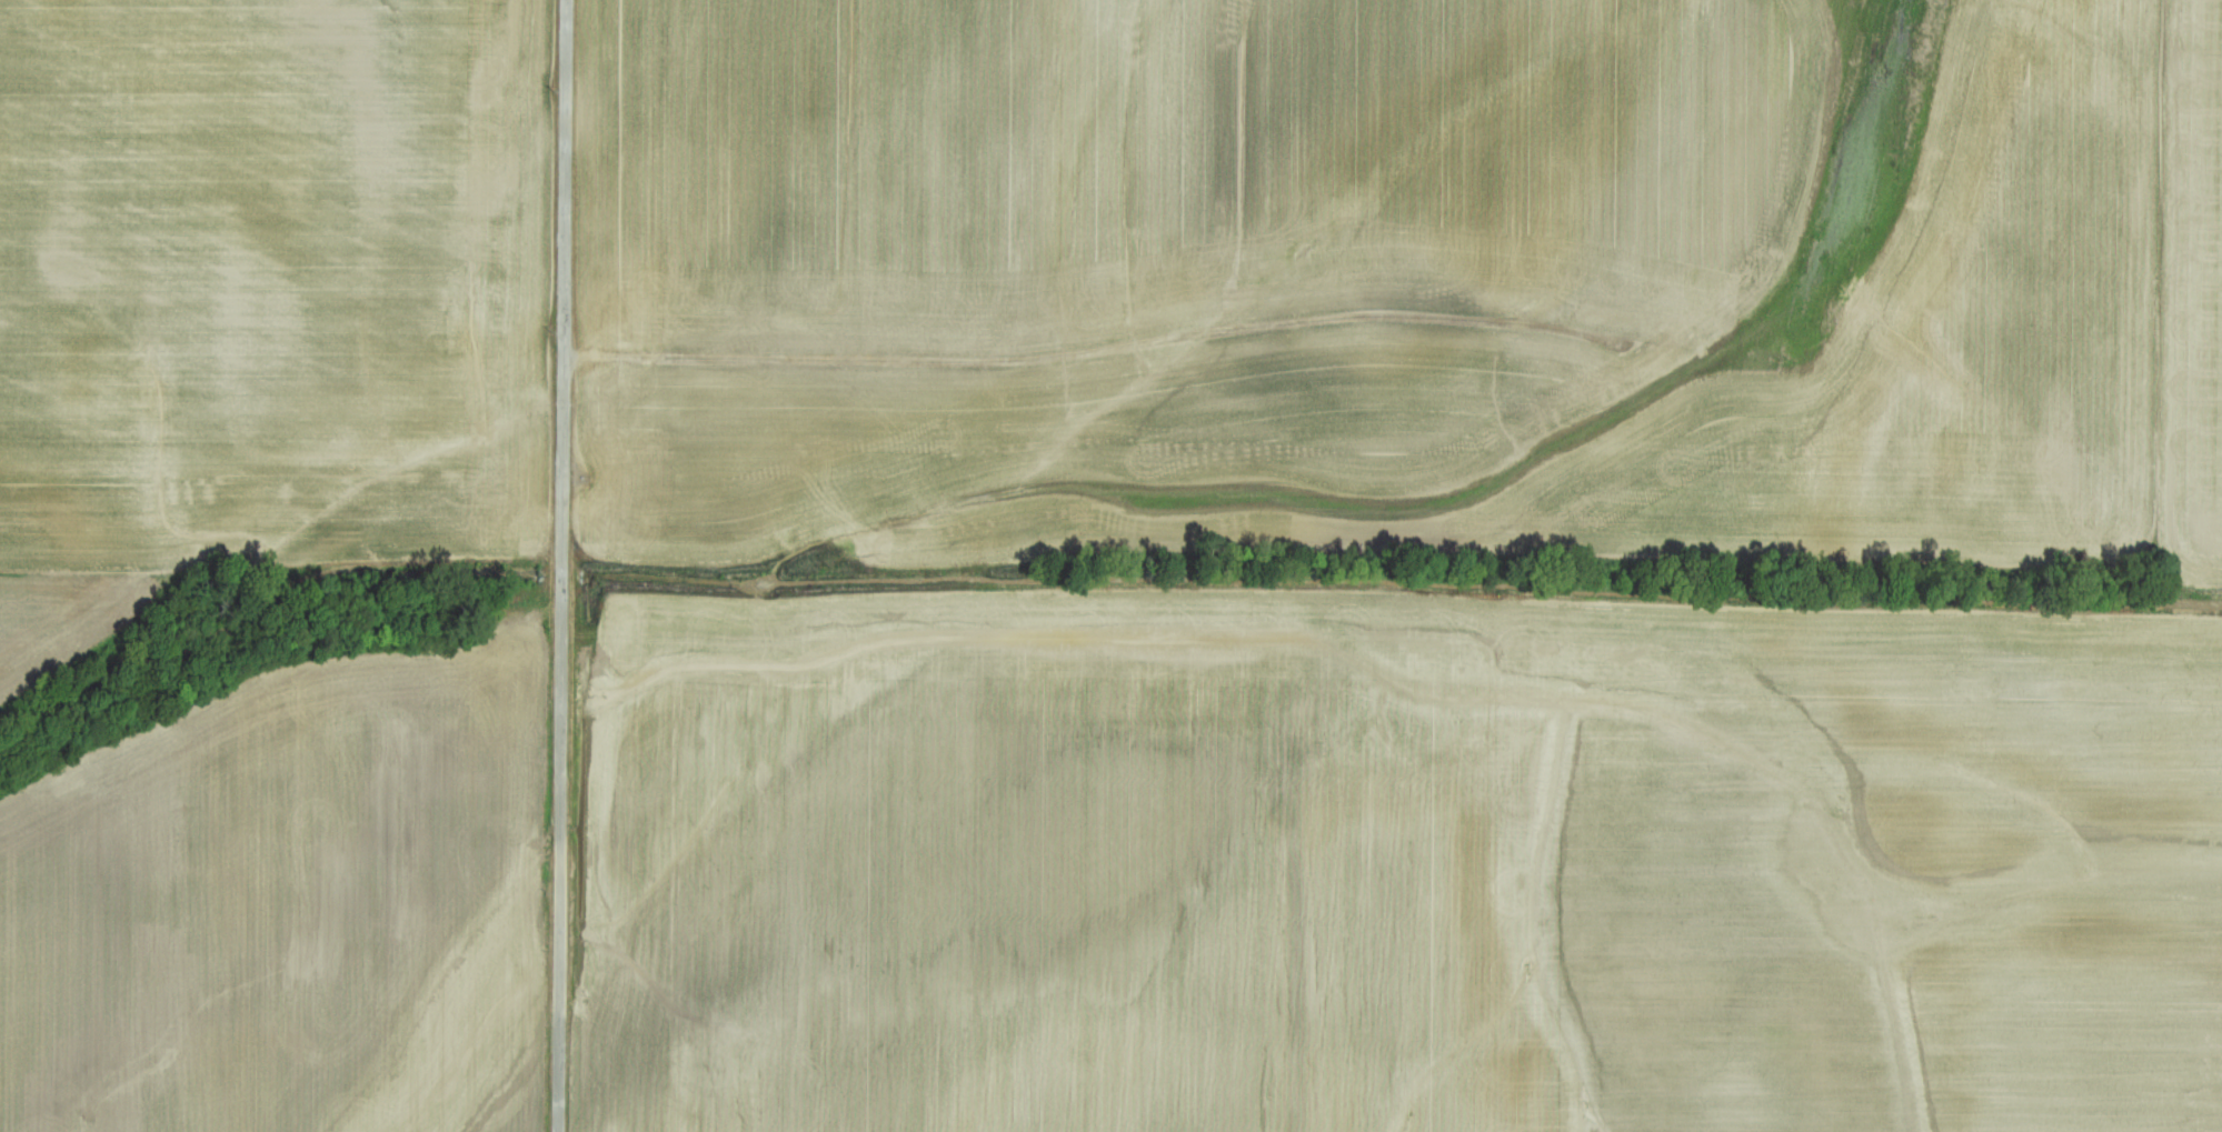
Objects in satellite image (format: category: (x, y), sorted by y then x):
road: (1119, 350)
road: (561, 565)

